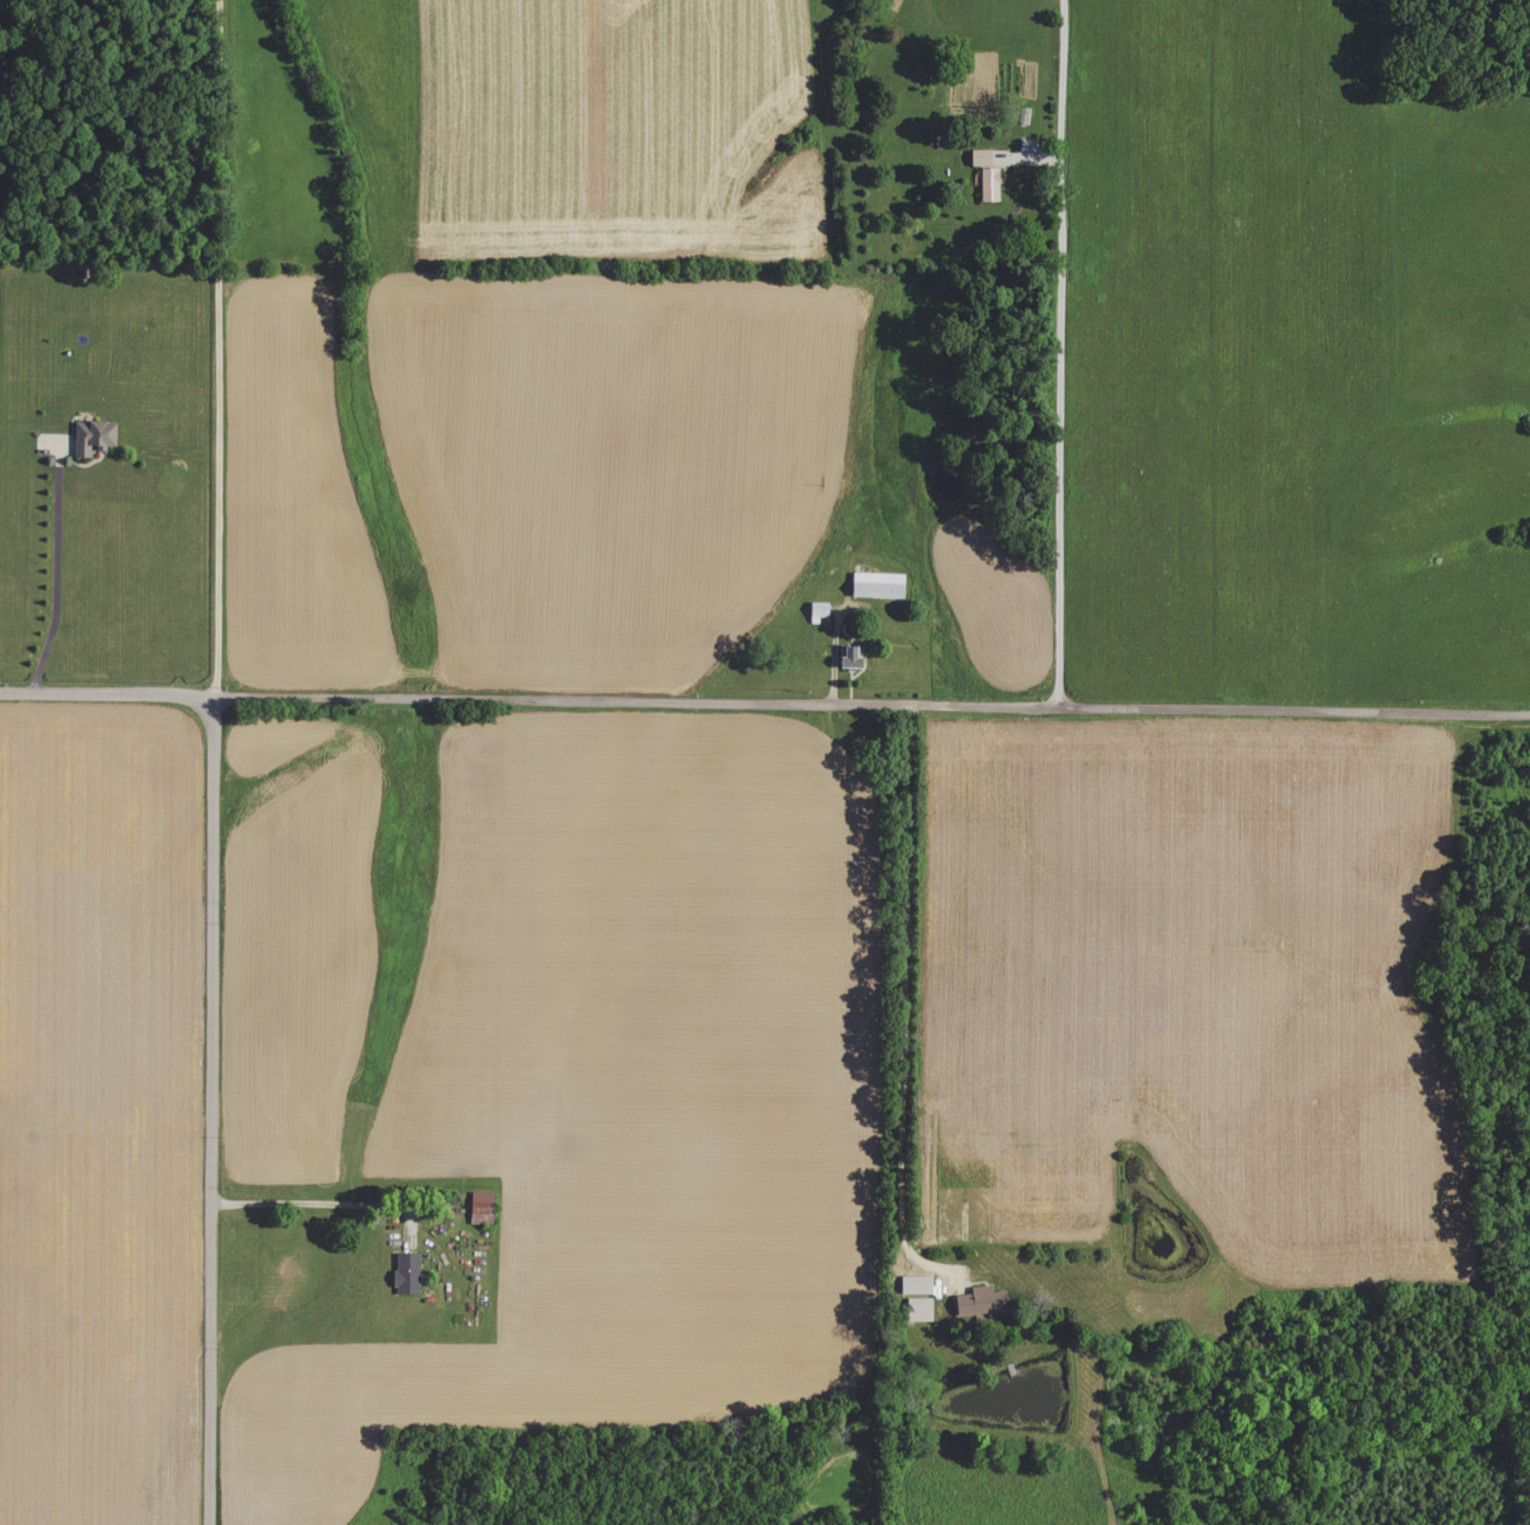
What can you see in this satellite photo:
building: (992, 174)
road: (224, 350)
road: (1063, 353)
building: (101, 436)
road: (55, 571)
building: (886, 585)
road: (835, 652)
building: (856, 657)
road: (108, 699)
road: (638, 701)
road: (1294, 712)
road: (209, 1113)
road: (316, 1204)
building: (488, 1207)
building: (412, 1274)
building: (923, 1285)
building: (987, 1302)
building: (925, 1309)

